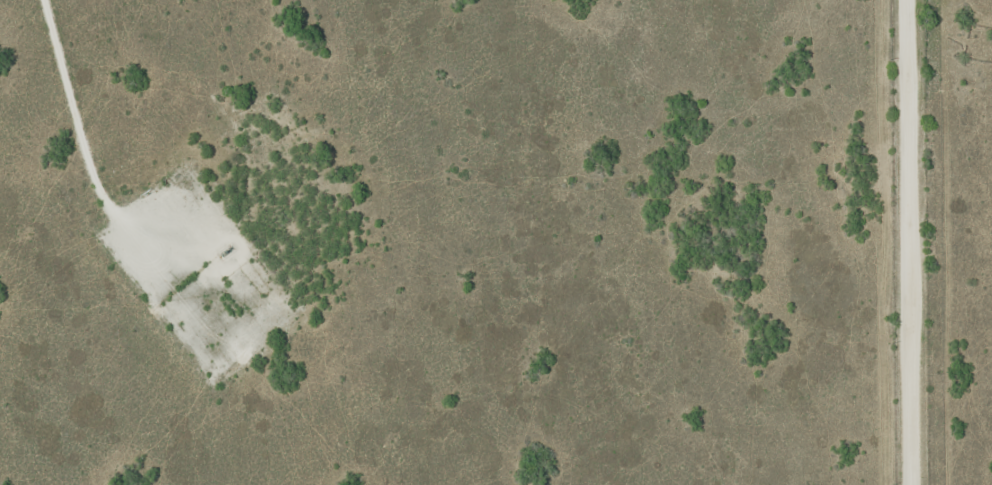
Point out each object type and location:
road: (899, 242)

